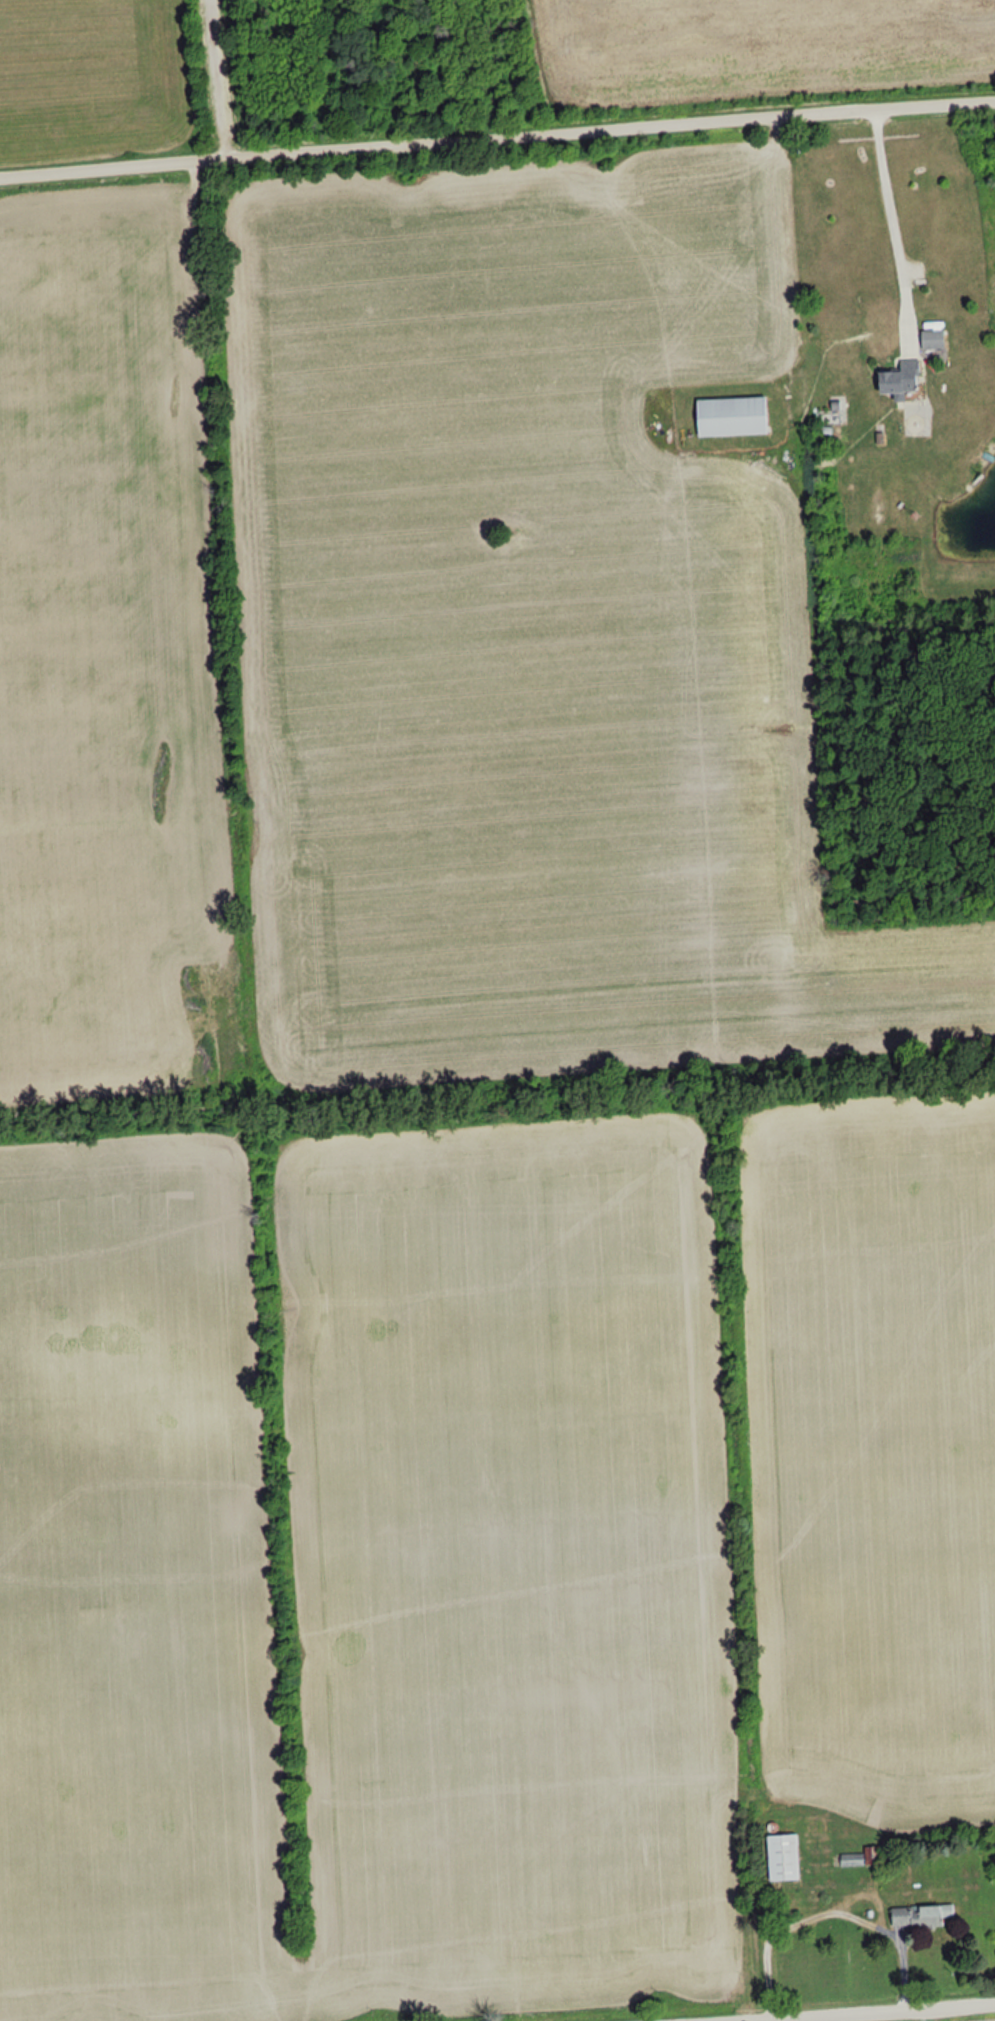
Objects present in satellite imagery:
road: (497, 138)
road: (894, 227)
building: (932, 339)
building: (898, 379)
building: (731, 416)
building: (783, 1856)
building: (851, 1859)
building: (920, 1914)
road: (918, 2016)

